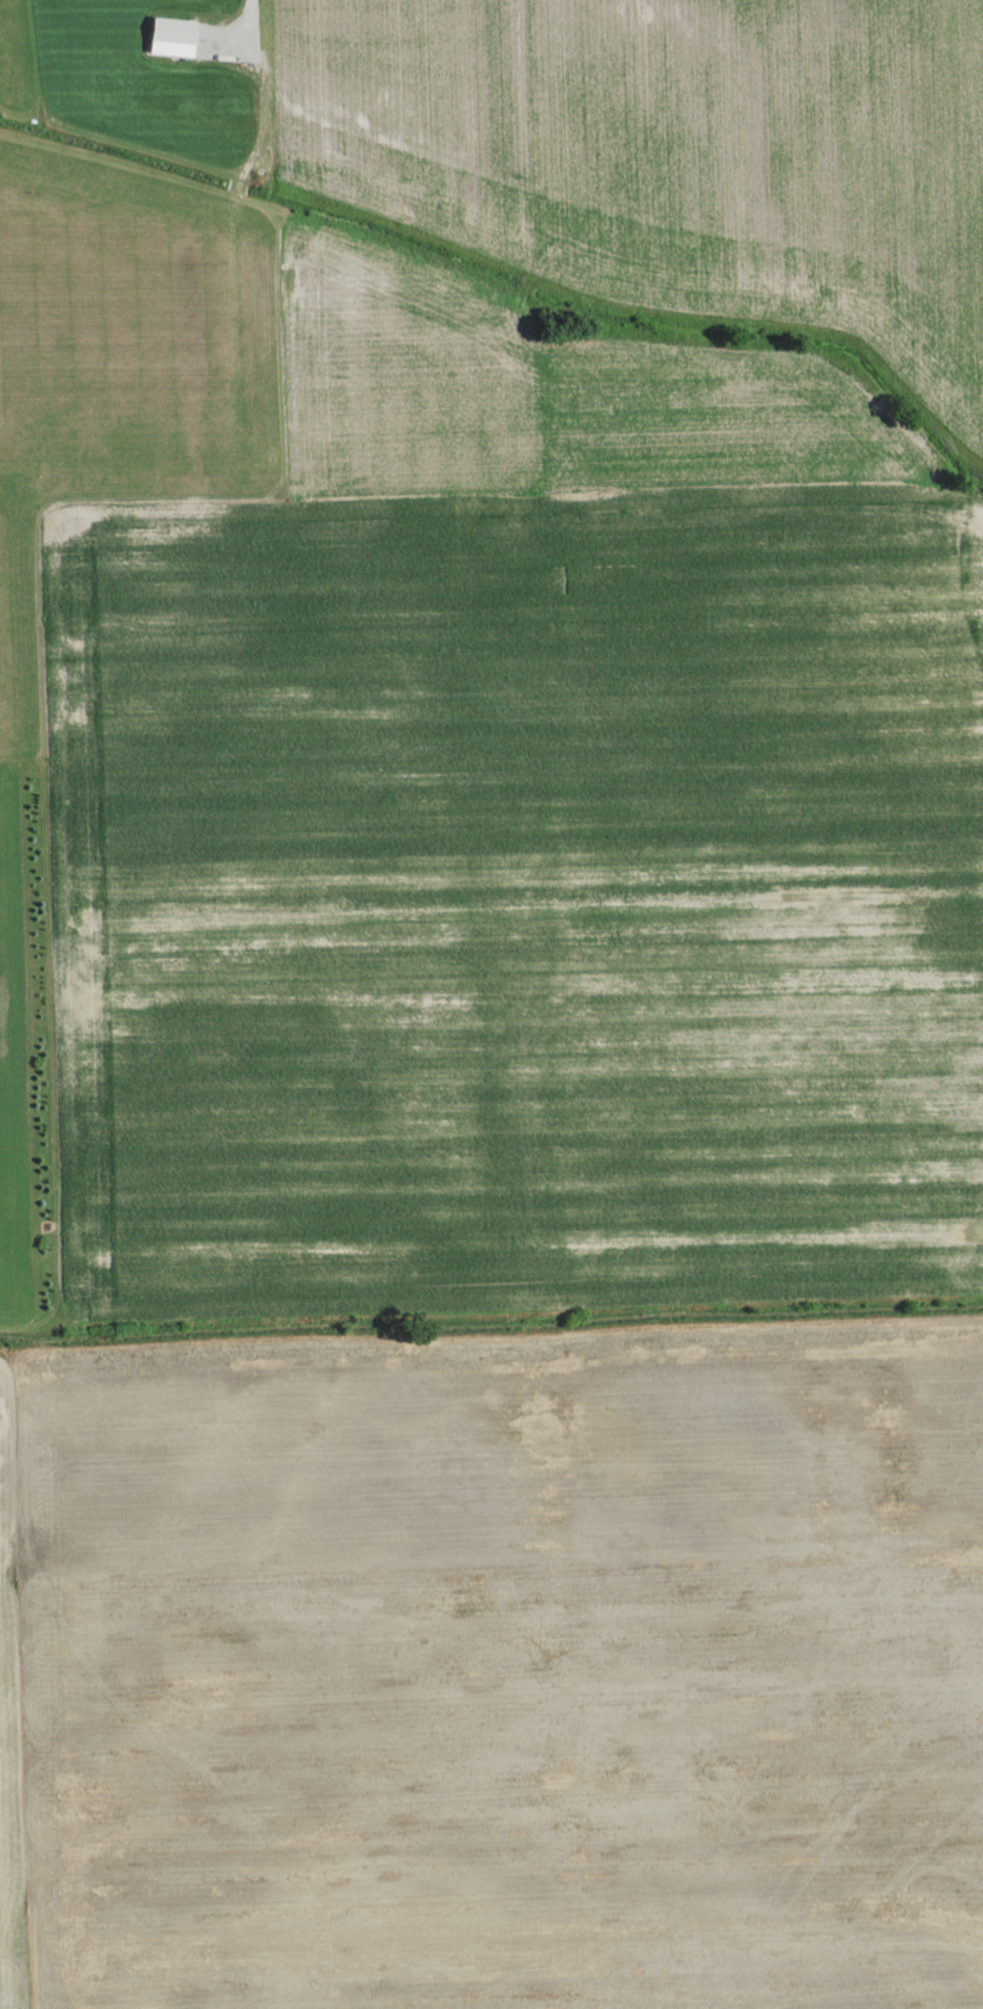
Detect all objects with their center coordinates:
road: (248, 17)
building: (172, 36)
crop: (503, 1669)
crop: (7, 1730)

